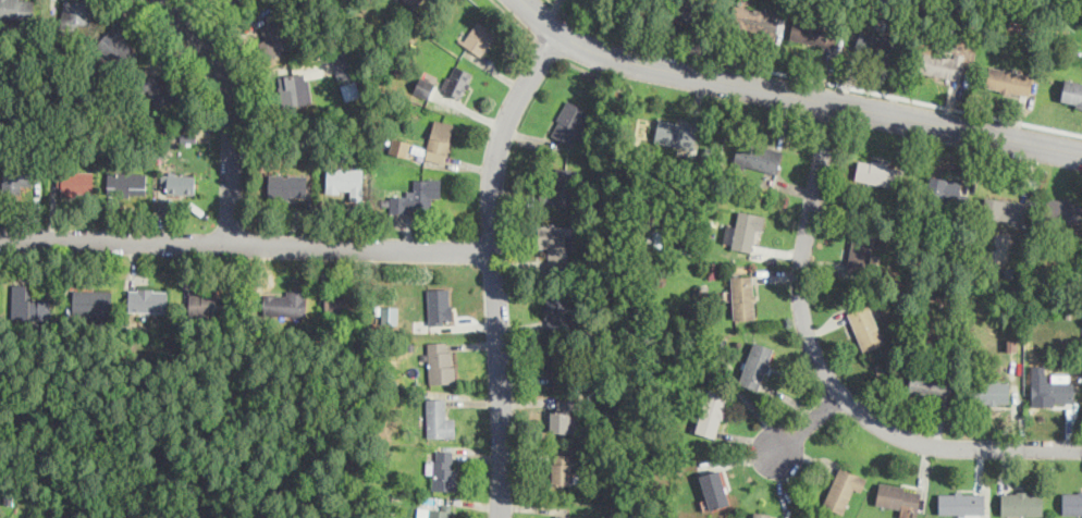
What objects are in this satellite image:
building: (230, 0)
building: (233, 0)
building: (414, 2)
building: (16, 9)
building: (688, 11)
building: (77, 13)
building: (754, 18)
road: (515, 20)
building: (813, 32)
building: (479, 36)
building: (272, 38)
building: (116, 44)
building: (877, 46)
road: (549, 48)
building: (940, 62)
building: (343, 65)
road: (582, 65)
road: (811, 77)
building: (457, 79)
building: (1009, 79)
building: (425, 86)
building: (295, 88)
building: (157, 89)
building: (352, 89)
building: (1072, 91)
road: (794, 95)
road: (225, 114)
building: (569, 122)
building: (675, 133)
building: (439, 140)
building: (401, 147)
building: (758, 156)
building: (876, 171)
building: (17, 178)
building: (345, 180)
building: (76, 181)
building: (126, 181)
building: (179, 182)
building: (288, 185)
building: (561, 187)
building: (944, 188)
building: (416, 196)
building: (1005, 208)
building: (1065, 210)
building: (743, 232)
building: (556, 244)
road: (245, 247)
building: (860, 255)
road: (493, 267)
building: (743, 296)
building: (148, 299)
building: (342, 300)
building: (91, 303)
building: (207, 303)
building: (284, 303)
building: (29, 305)
building: (440, 305)
building: (557, 307)
building: (390, 314)
building: (865, 326)
building: (441, 361)
building: (562, 361)
building: (755, 363)
road: (826, 377)
building: (933, 385)
building: (1054, 387)
building: (991, 392)
building: (711, 411)
building: (564, 416)
building: (439, 418)
road: (806, 425)
building: (561, 468)
building: (443, 469)
building: (713, 485)
building: (843, 488)
building: (898, 497)
building: (961, 502)
building: (1021, 502)
building: (1072, 502)
building: (439, 510)
building: (771, 515)
building: (566, 516)

